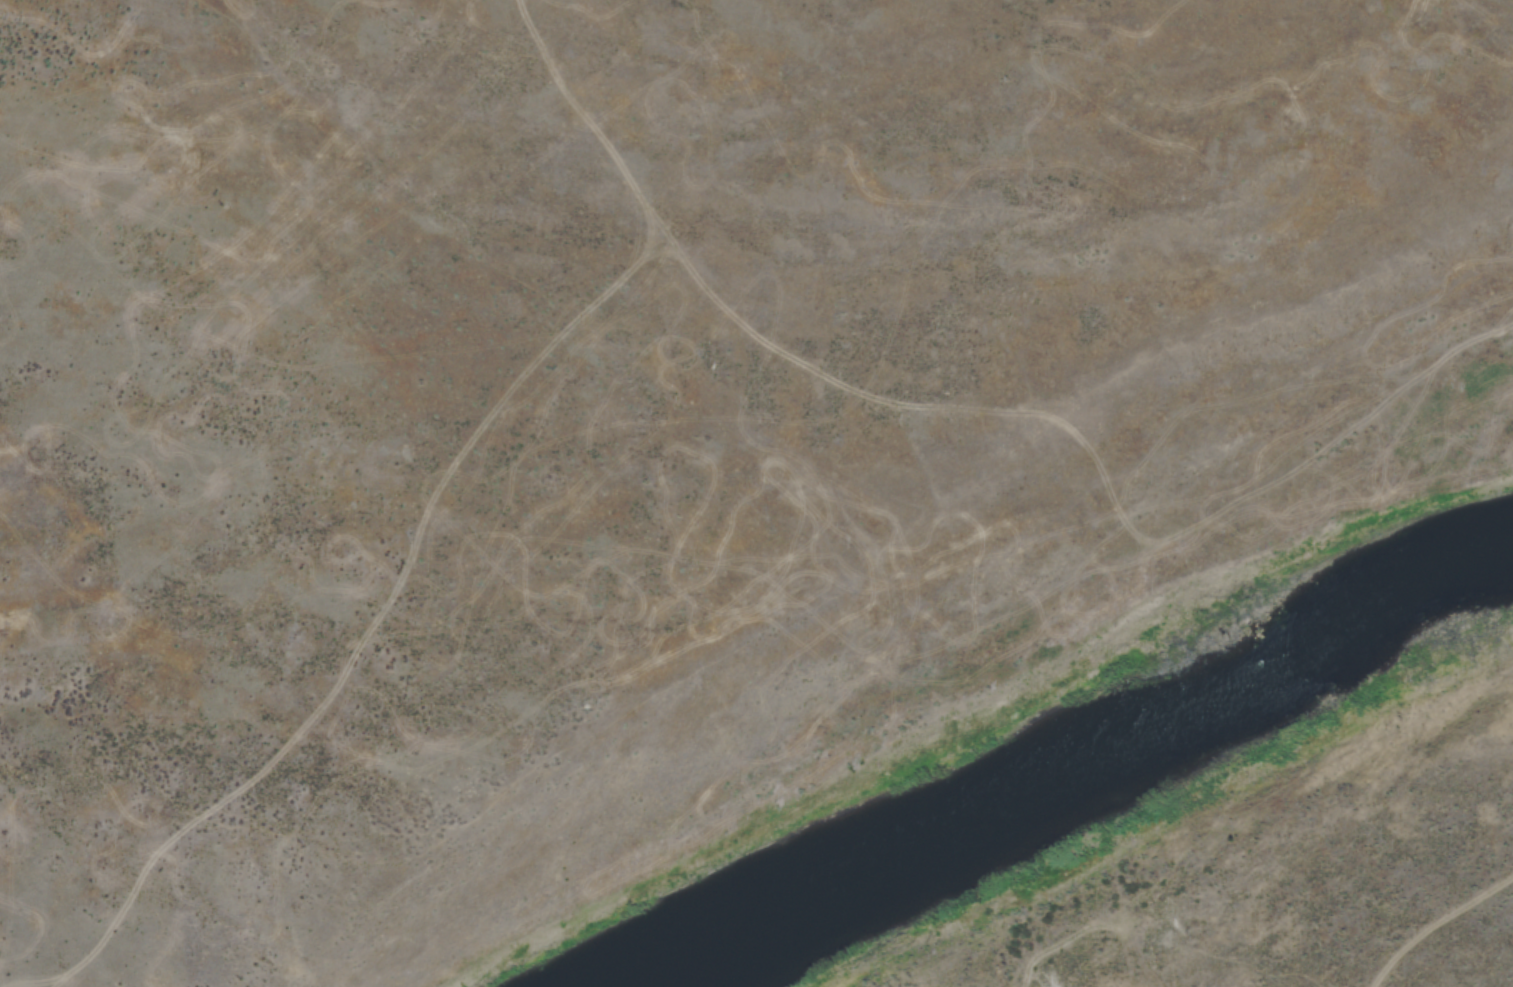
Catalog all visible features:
river: (1077, 783)
road: (1436, 925)

